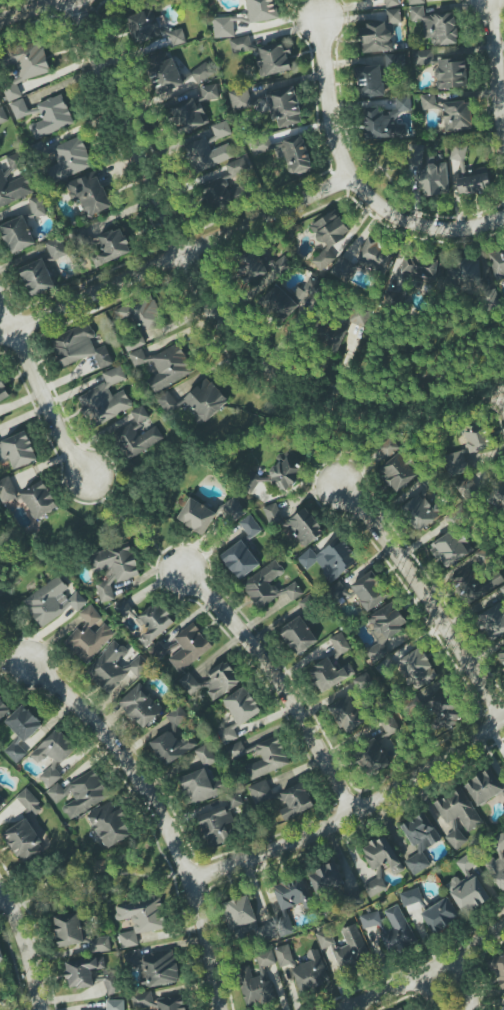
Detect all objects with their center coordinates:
building: (416, 2)
building: (391, 3)
building: (262, 10)
road: (33, 12)
building: (393, 16)
building: (436, 26)
building: (223, 27)
building: (152, 28)
building: (376, 37)
building: (240, 44)
road: (496, 55)
building: (423, 57)
building: (272, 59)
building: (203, 72)
building: (164, 73)
building: (451, 73)
building: (370, 81)
building: (209, 92)
building: (239, 99)
building: (285, 107)
building: (21, 109)
building: (451, 113)
building: (3, 116)
building: (51, 116)
building: (188, 116)
building: (386, 120)
building: (221, 129)
building: (295, 154)
building: (207, 155)
building: (69, 159)
building: (239, 166)
building: (469, 174)
building: (433, 178)
road: (350, 181)
building: (13, 183)
road: (162, 193)
building: (89, 194)
building: (222, 194)
building: (37, 206)
building: (17, 234)
building: (328, 237)
building: (111, 247)
building: (56, 248)
building: (376, 255)
road: (174, 259)
building: (497, 263)
building: (259, 267)
building: (420, 267)
building: (341, 268)
building: (37, 278)
building: (281, 301)
road: (213, 303)
road: (8, 309)
building: (137, 314)
building: (359, 317)
building: (331, 337)
building: (79, 347)
building: (164, 365)
park: (431, 372)
road: (384, 377)
building: (3, 391)
building: (105, 399)
road: (502, 399)
building: (197, 401)
road: (51, 403)
building: (139, 414)
building: (136, 440)
building: (18, 450)
building: (467, 451)
building: (284, 472)
building: (397, 472)
building: (468, 486)
building: (7, 490)
building: (498, 494)
building: (39, 499)
building: (234, 506)
building: (419, 511)
building: (196, 516)
road: (138, 521)
building: (295, 523)
building: (250, 526)
building: (449, 549)
building: (331, 559)
building: (240, 560)
building: (113, 568)
building: (475, 583)
building: (268, 587)
building: (337, 591)
building: (369, 591)
road: (427, 594)
building: (52, 601)
building: (122, 608)
building: (493, 620)
building: (153, 623)
building: (298, 635)
building: (88, 637)
building: (339, 643)
building: (189, 647)
road: (13, 651)
building: (502, 655)
building: (114, 667)
building: (418, 668)
building: (328, 674)
building: (221, 680)
road: (282, 680)
building: (362, 681)
building: (189, 684)
building: (140, 705)
building: (4, 708)
building: (444, 708)
building: (238, 712)
building: (347, 713)
building: (21, 731)
building: (173, 739)
building: (236, 749)
building: (52, 755)
building: (205, 755)
building: (267, 758)
building: (201, 786)
building: (484, 787)
building: (261, 791)
building: (80, 793)
building: (28, 801)
building: (295, 801)
building: (458, 809)
road: (354, 813)
road: (160, 815)
building: (218, 821)
building: (109, 824)
building: (449, 826)
building: (456, 839)
building: (24, 841)
building: (420, 841)
building: (381, 854)
building: (498, 862)
building: (466, 863)
road: (89, 876)
park: (92, 877)
building: (326, 879)
building: (375, 886)
building: (292, 894)
building: (468, 894)
building: (411, 896)
road: (2, 898)
building: (441, 915)
building: (140, 918)
building: (370, 919)
building: (68, 929)
building: (397, 931)
building: (100, 944)
building: (346, 946)
road: (25, 947)
building: (1, 956)
building: (283, 956)
building: (154, 967)
building: (498, 968)
building: (82, 971)
building: (311, 972)
road: (426, 972)
building: (257, 981)
building: (111, 982)
road: (464, 983)
road: (428, 993)
building: (142, 999)
building: (171, 1003)
building: (115, 1005)
building: (503, 1008)
building: (400, 1009)

